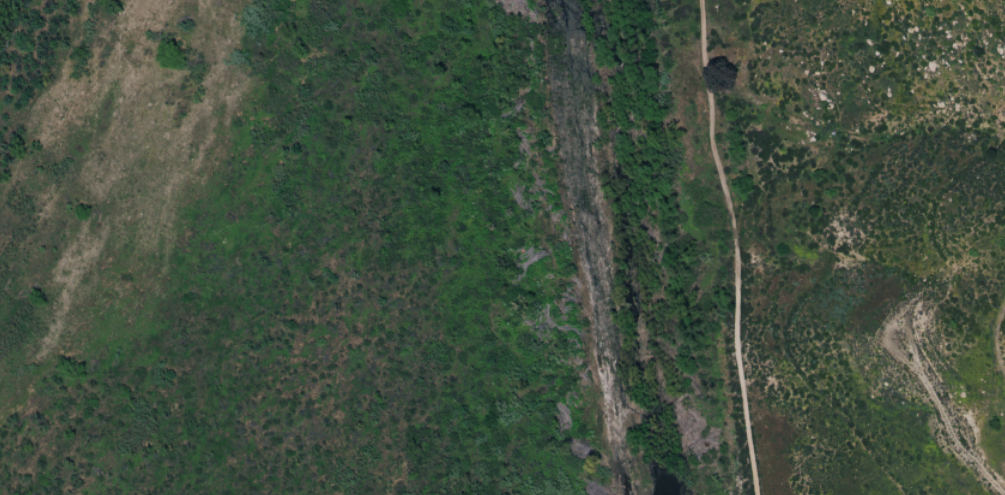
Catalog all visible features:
park: (435, 243)
road: (732, 246)
river: (582, 247)

